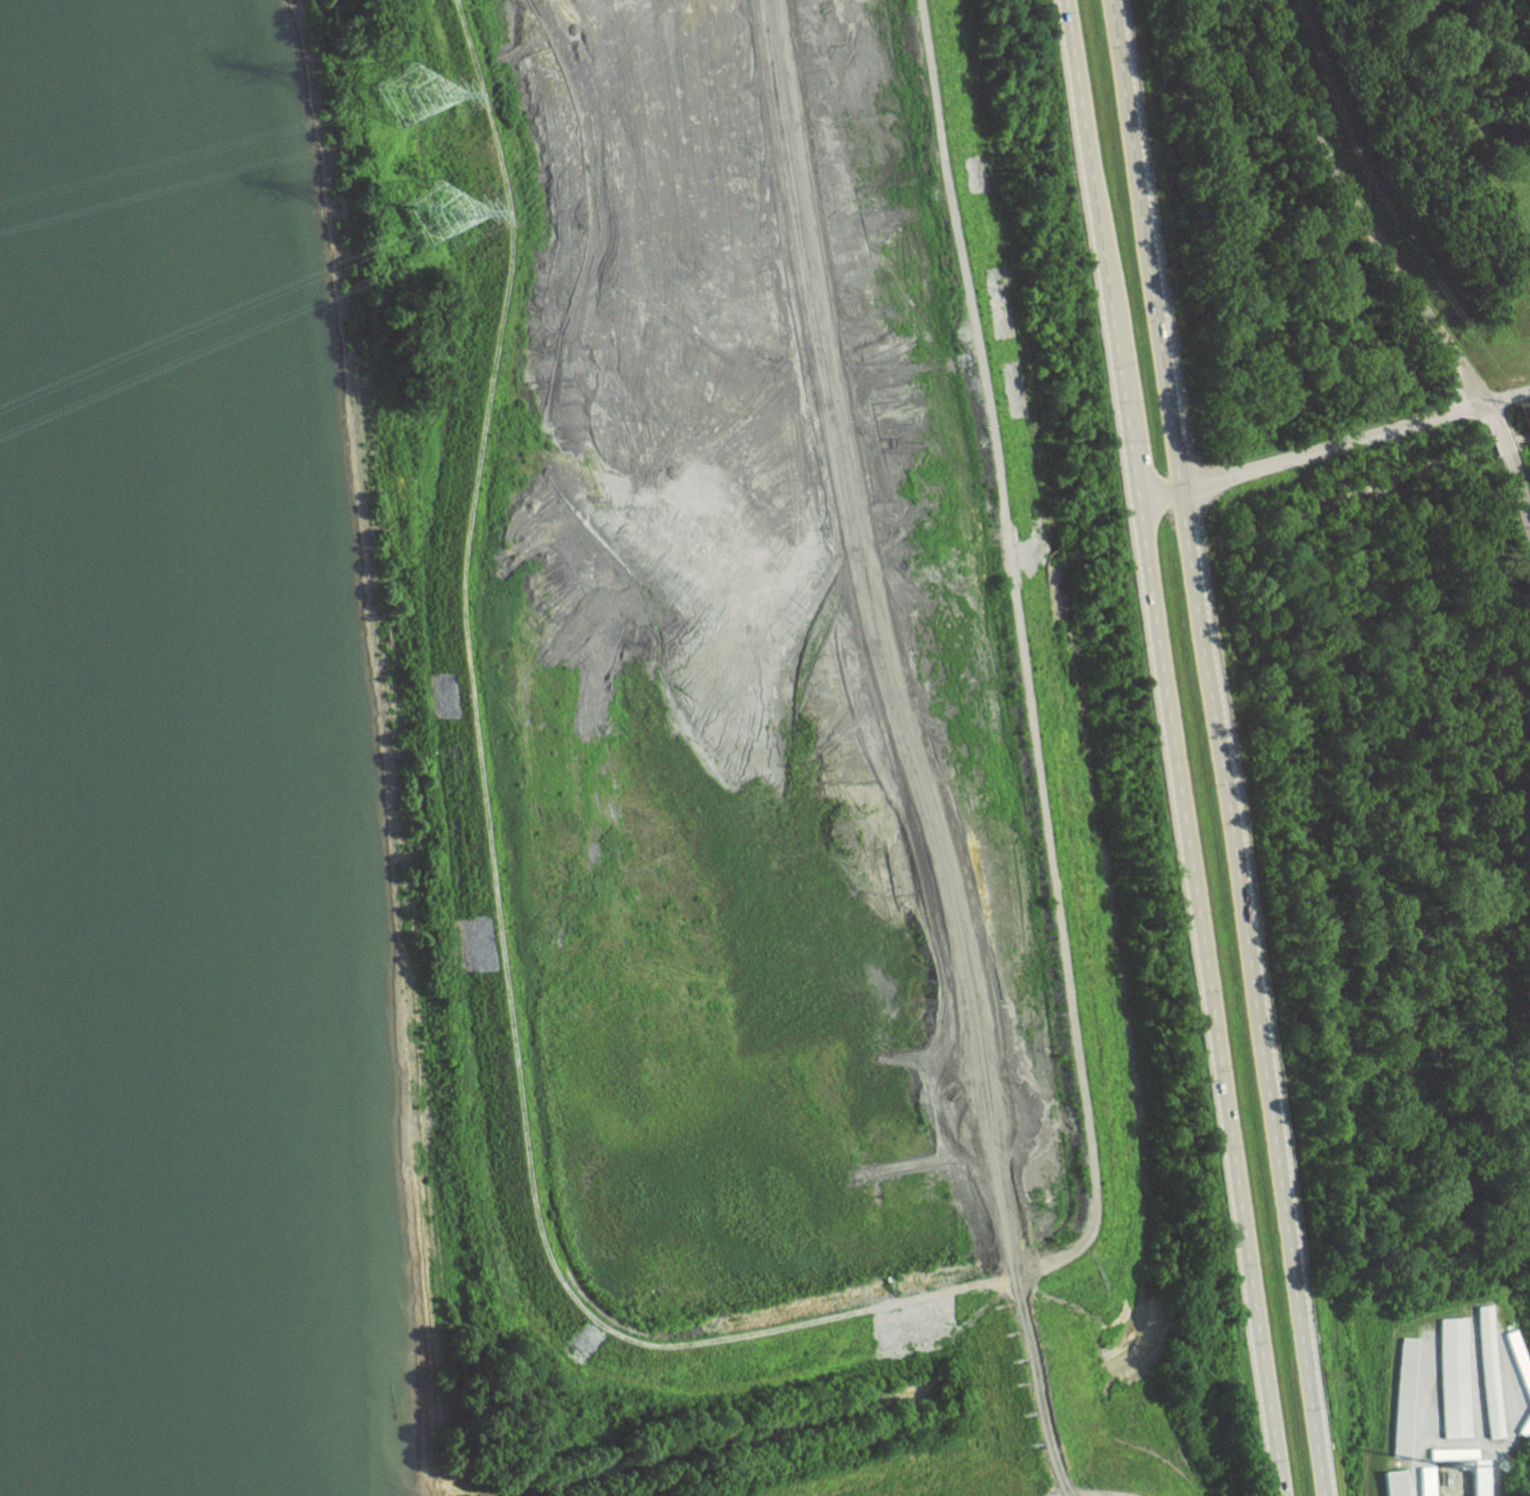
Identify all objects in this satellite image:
power tower: (408, 101)
road: (1090, 186)
road: (1362, 201)
power tower: (438, 221)
road: (1492, 416)
road: (1127, 438)
road: (1502, 443)
road: (1332, 447)
road: (1518, 491)
road: (1218, 747)
road: (1212, 999)
building: (1519, 1363)
building: (1489, 1372)
building: (1453, 1378)
building: (1405, 1398)
building: (1525, 1422)
building: (1455, 1454)
building: (1395, 1484)
road: (1091, 1491)

